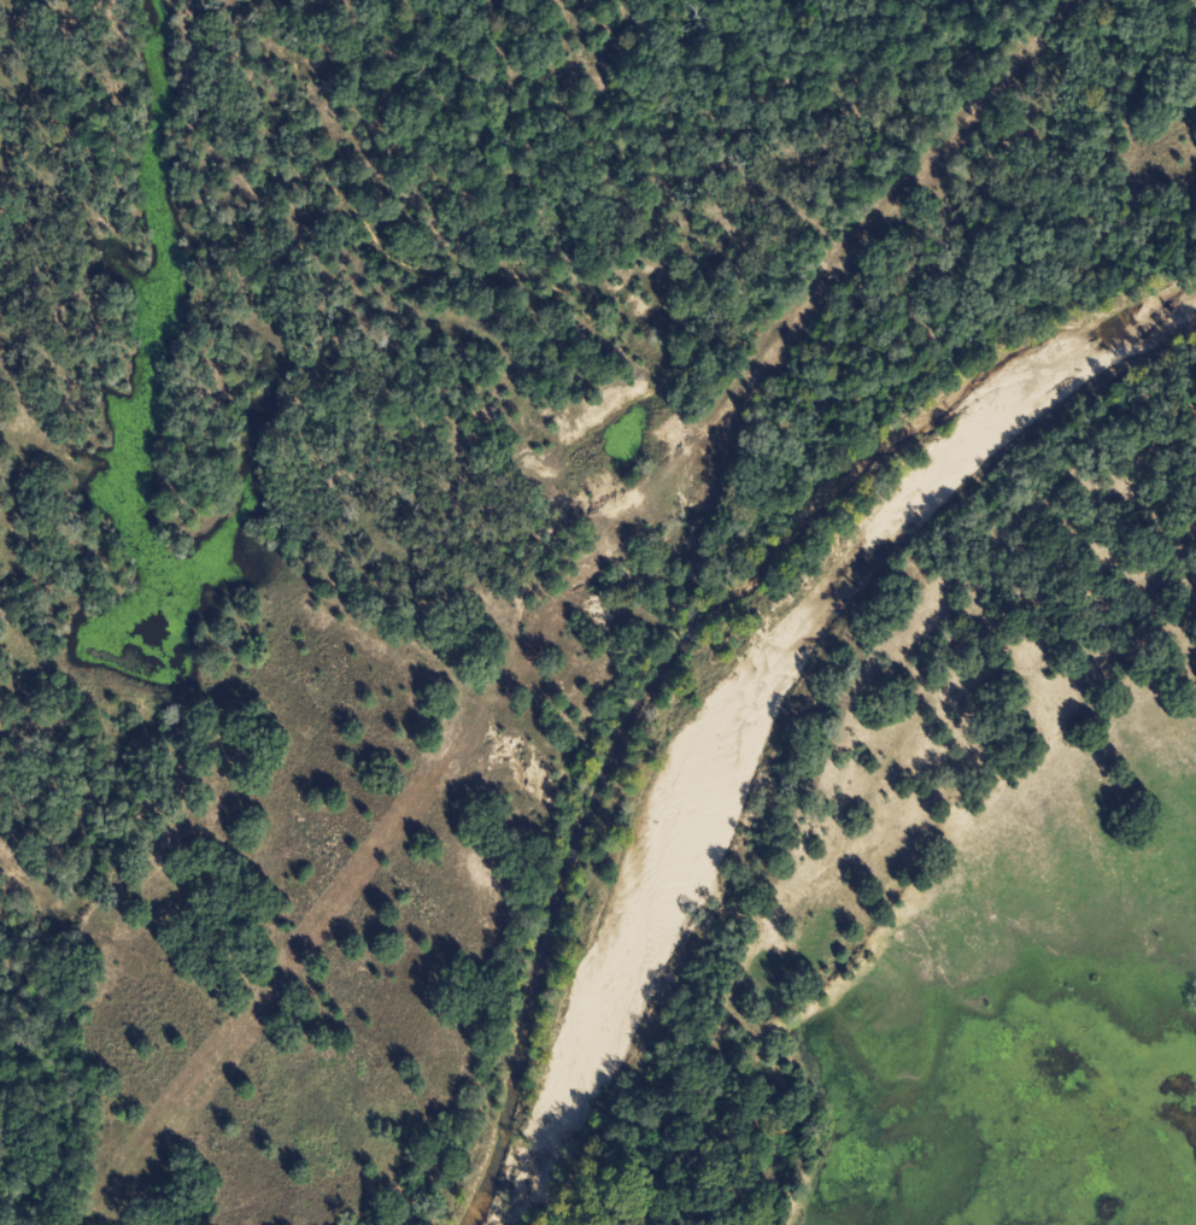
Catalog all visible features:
road: (836, 260)

